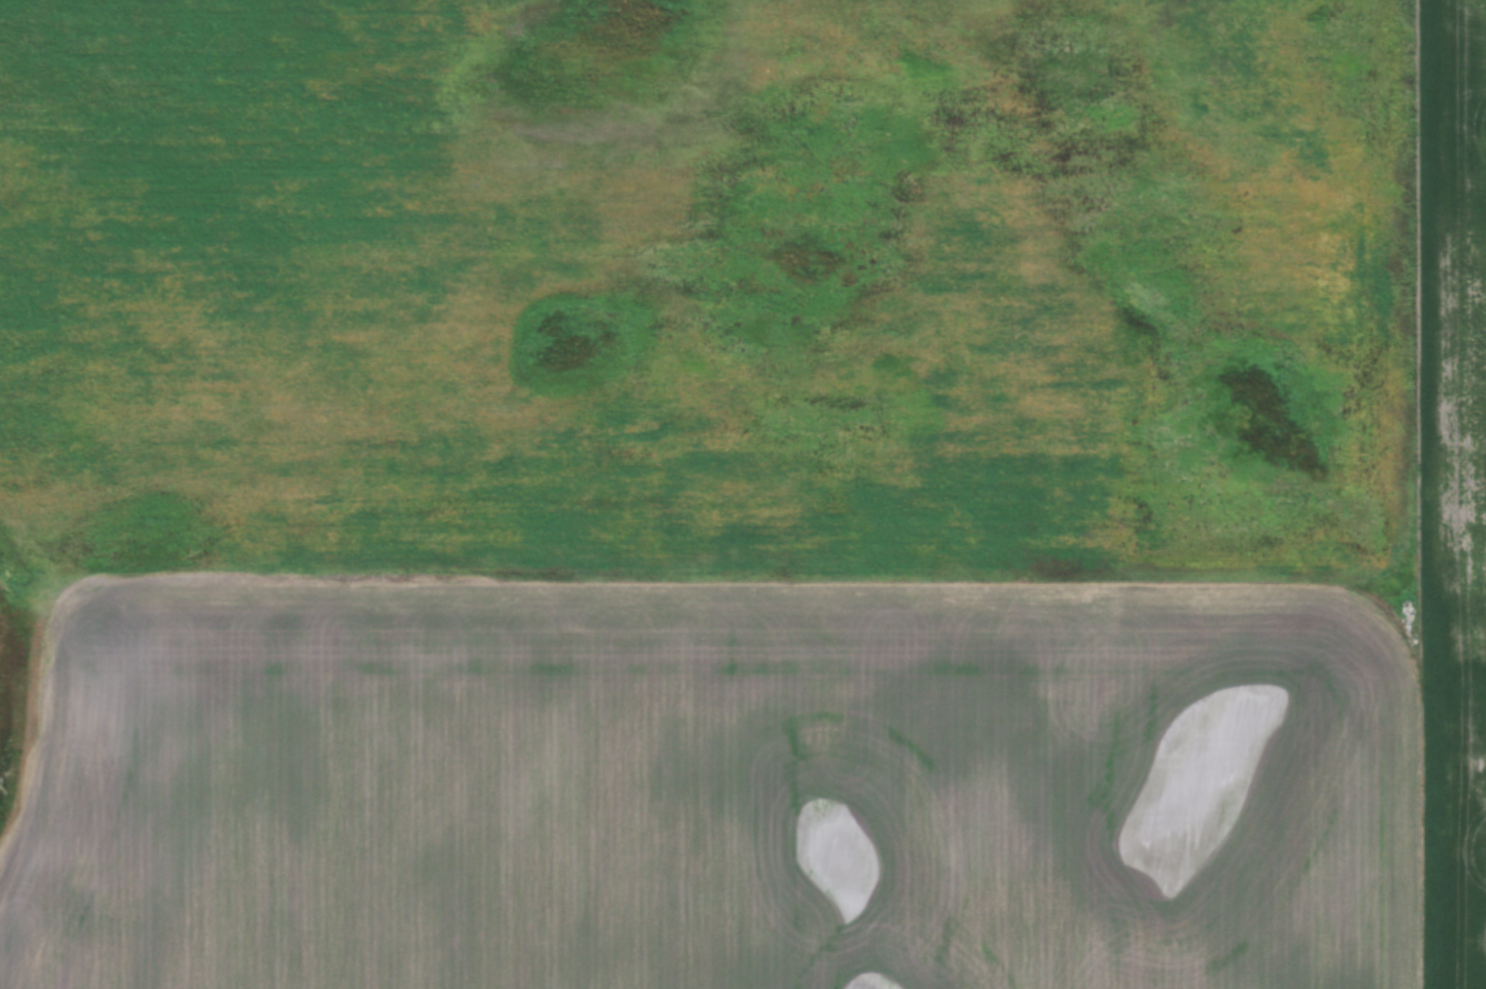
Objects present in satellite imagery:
road: (1417, 763)

